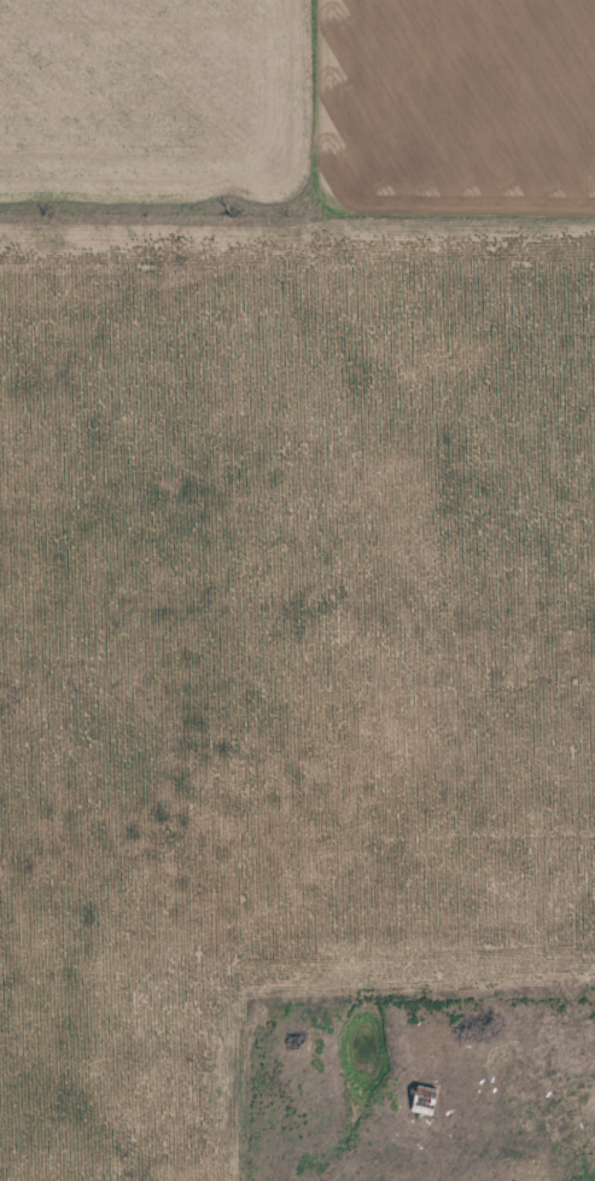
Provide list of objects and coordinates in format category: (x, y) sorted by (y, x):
building: (424, 1104)

